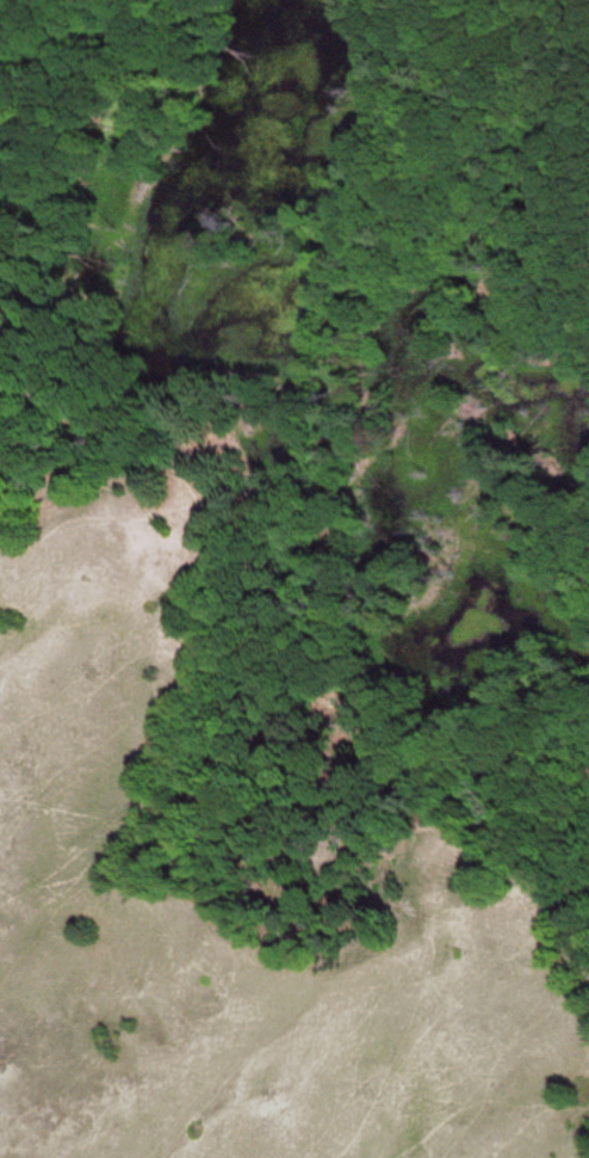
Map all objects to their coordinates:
park: (294, 579)

